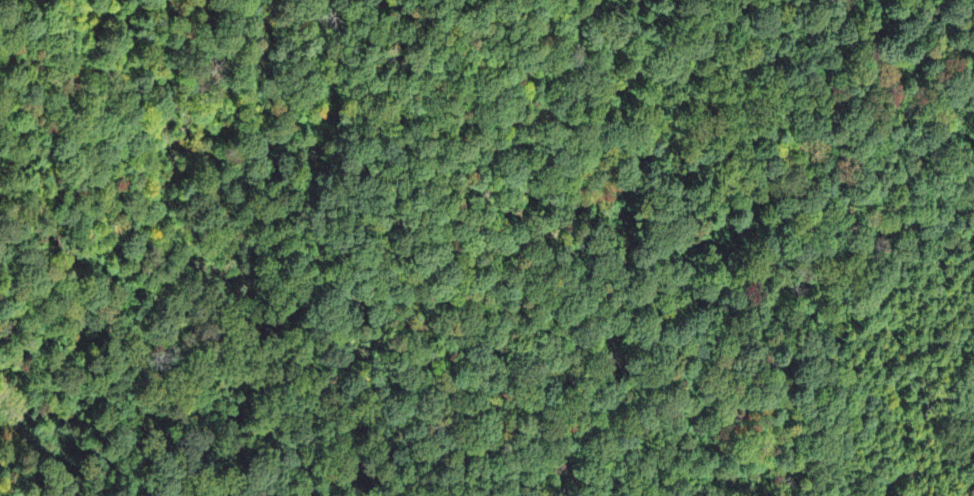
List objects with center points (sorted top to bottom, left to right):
road: (895, 389)

